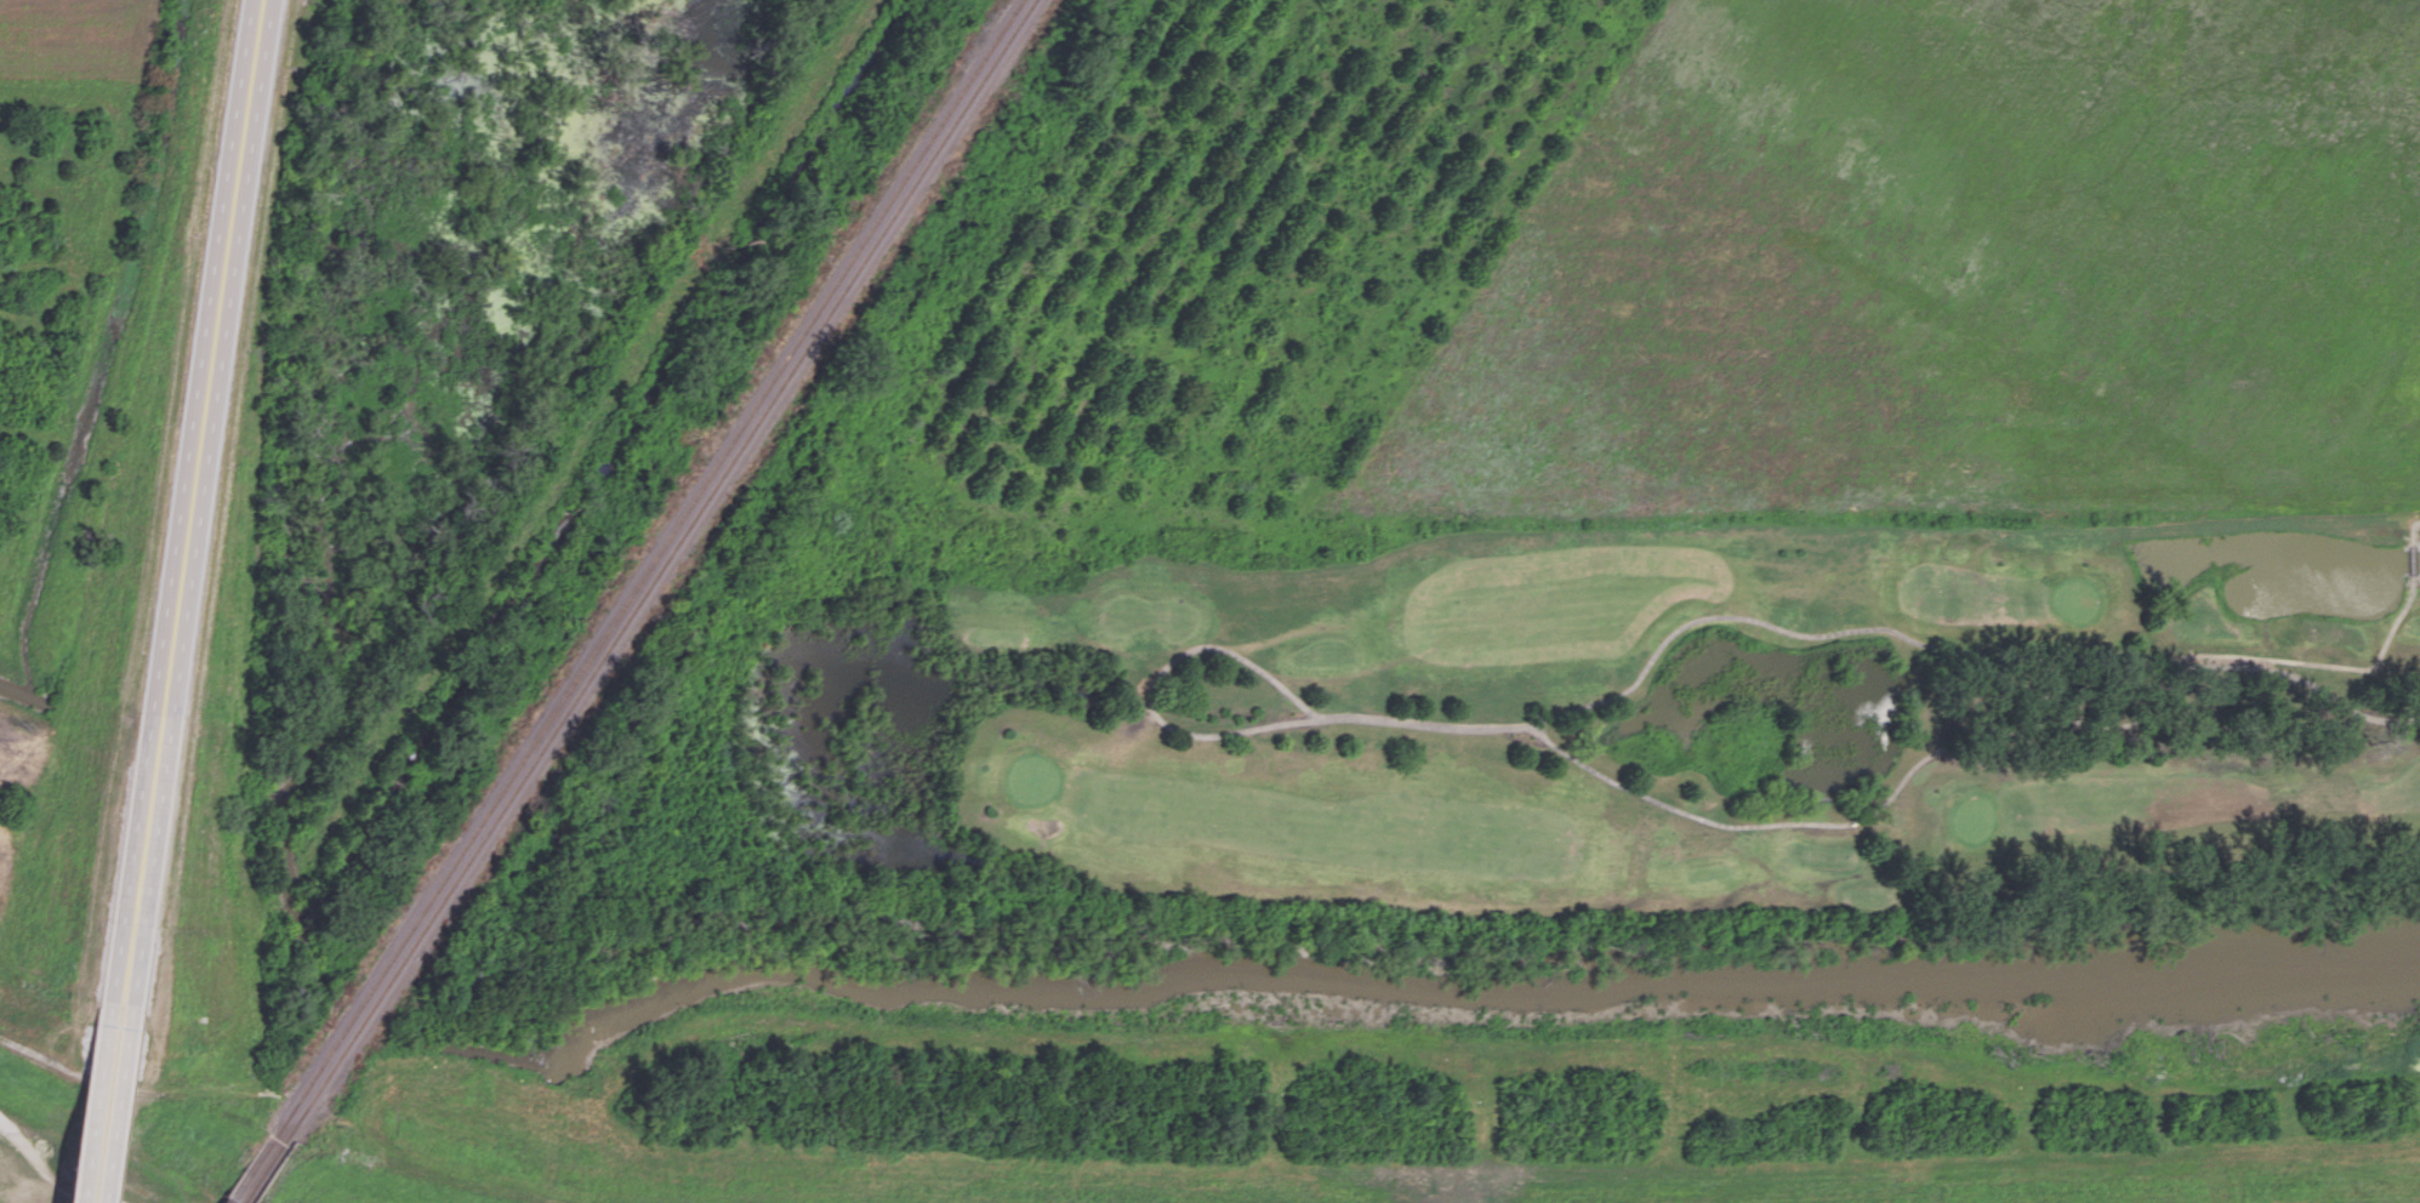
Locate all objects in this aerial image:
road: (190, 500)
railway: (644, 569)
railway: (655, 571)
road: (1759, 621)
road: (2363, 667)
road: (1155, 685)
park: (1667, 712)
road: (1885, 796)
river: (1475, 986)
road: (90, 1099)
road: (112, 1101)
river: (551, 1122)
railway: (246, 1170)
road: (53, 1174)
railway: (260, 1174)

